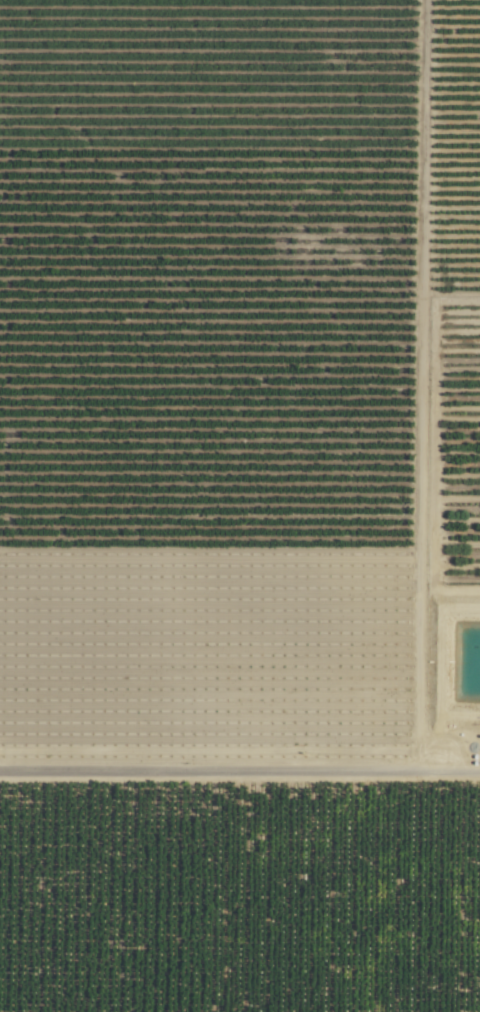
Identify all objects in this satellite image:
crop: (240, 506)
road: (240, 769)

